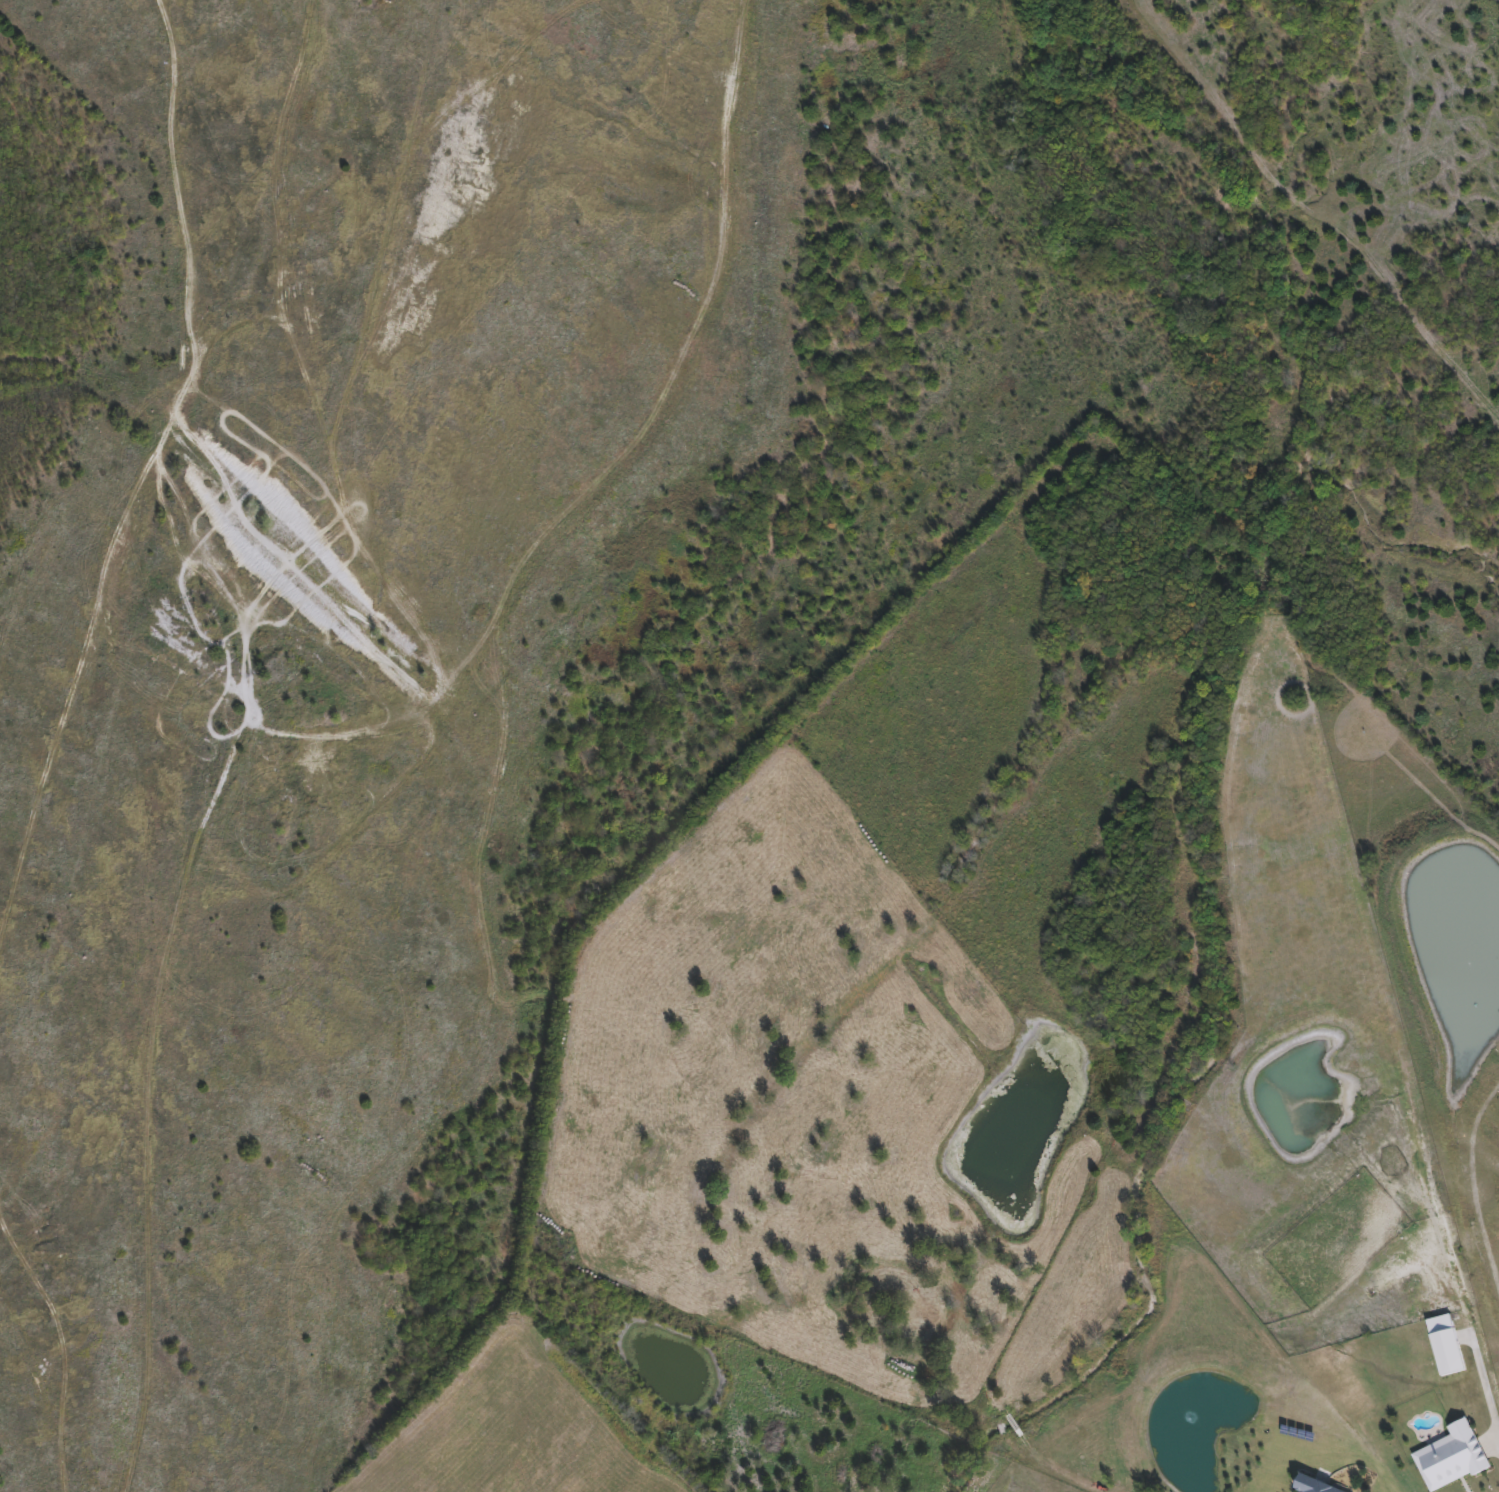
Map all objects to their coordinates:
building: (1446, 1349)
road: (1498, 1444)
building: (1452, 1458)

